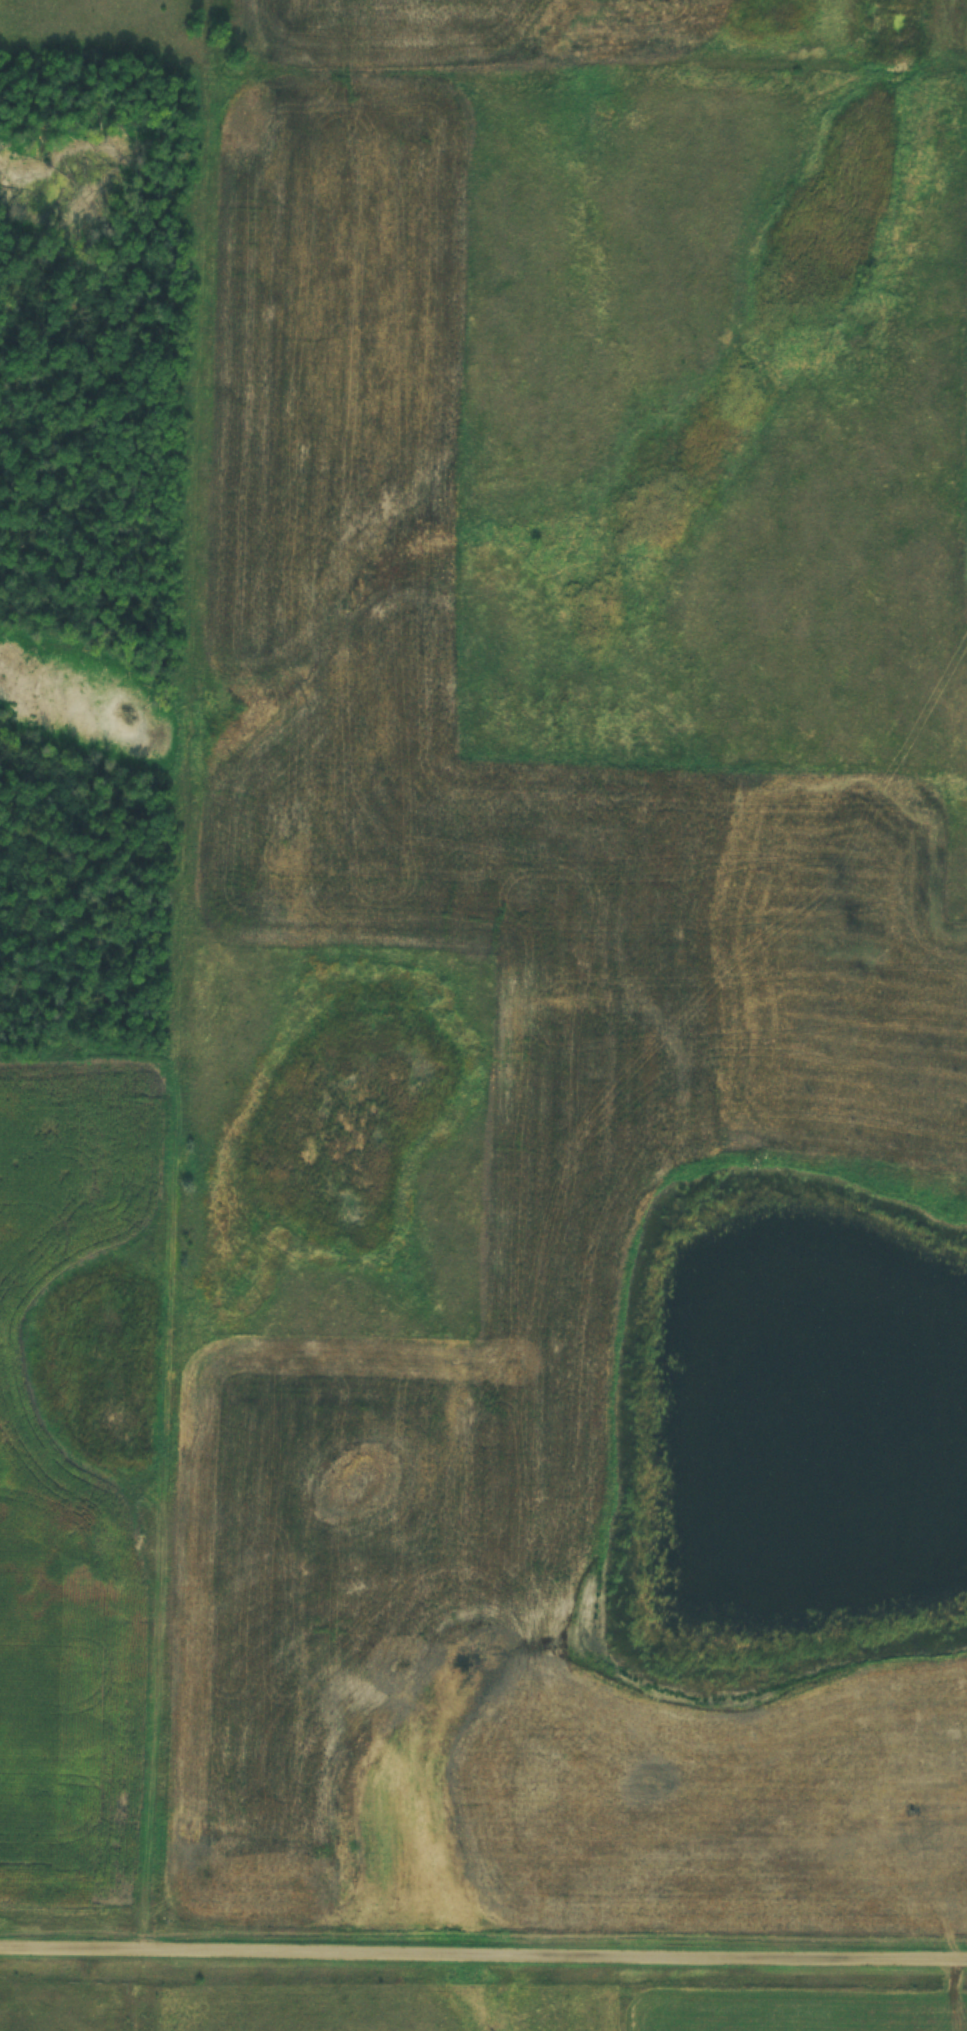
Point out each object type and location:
road: (178, 1080)
road: (142, 1947)
road: (626, 1954)

